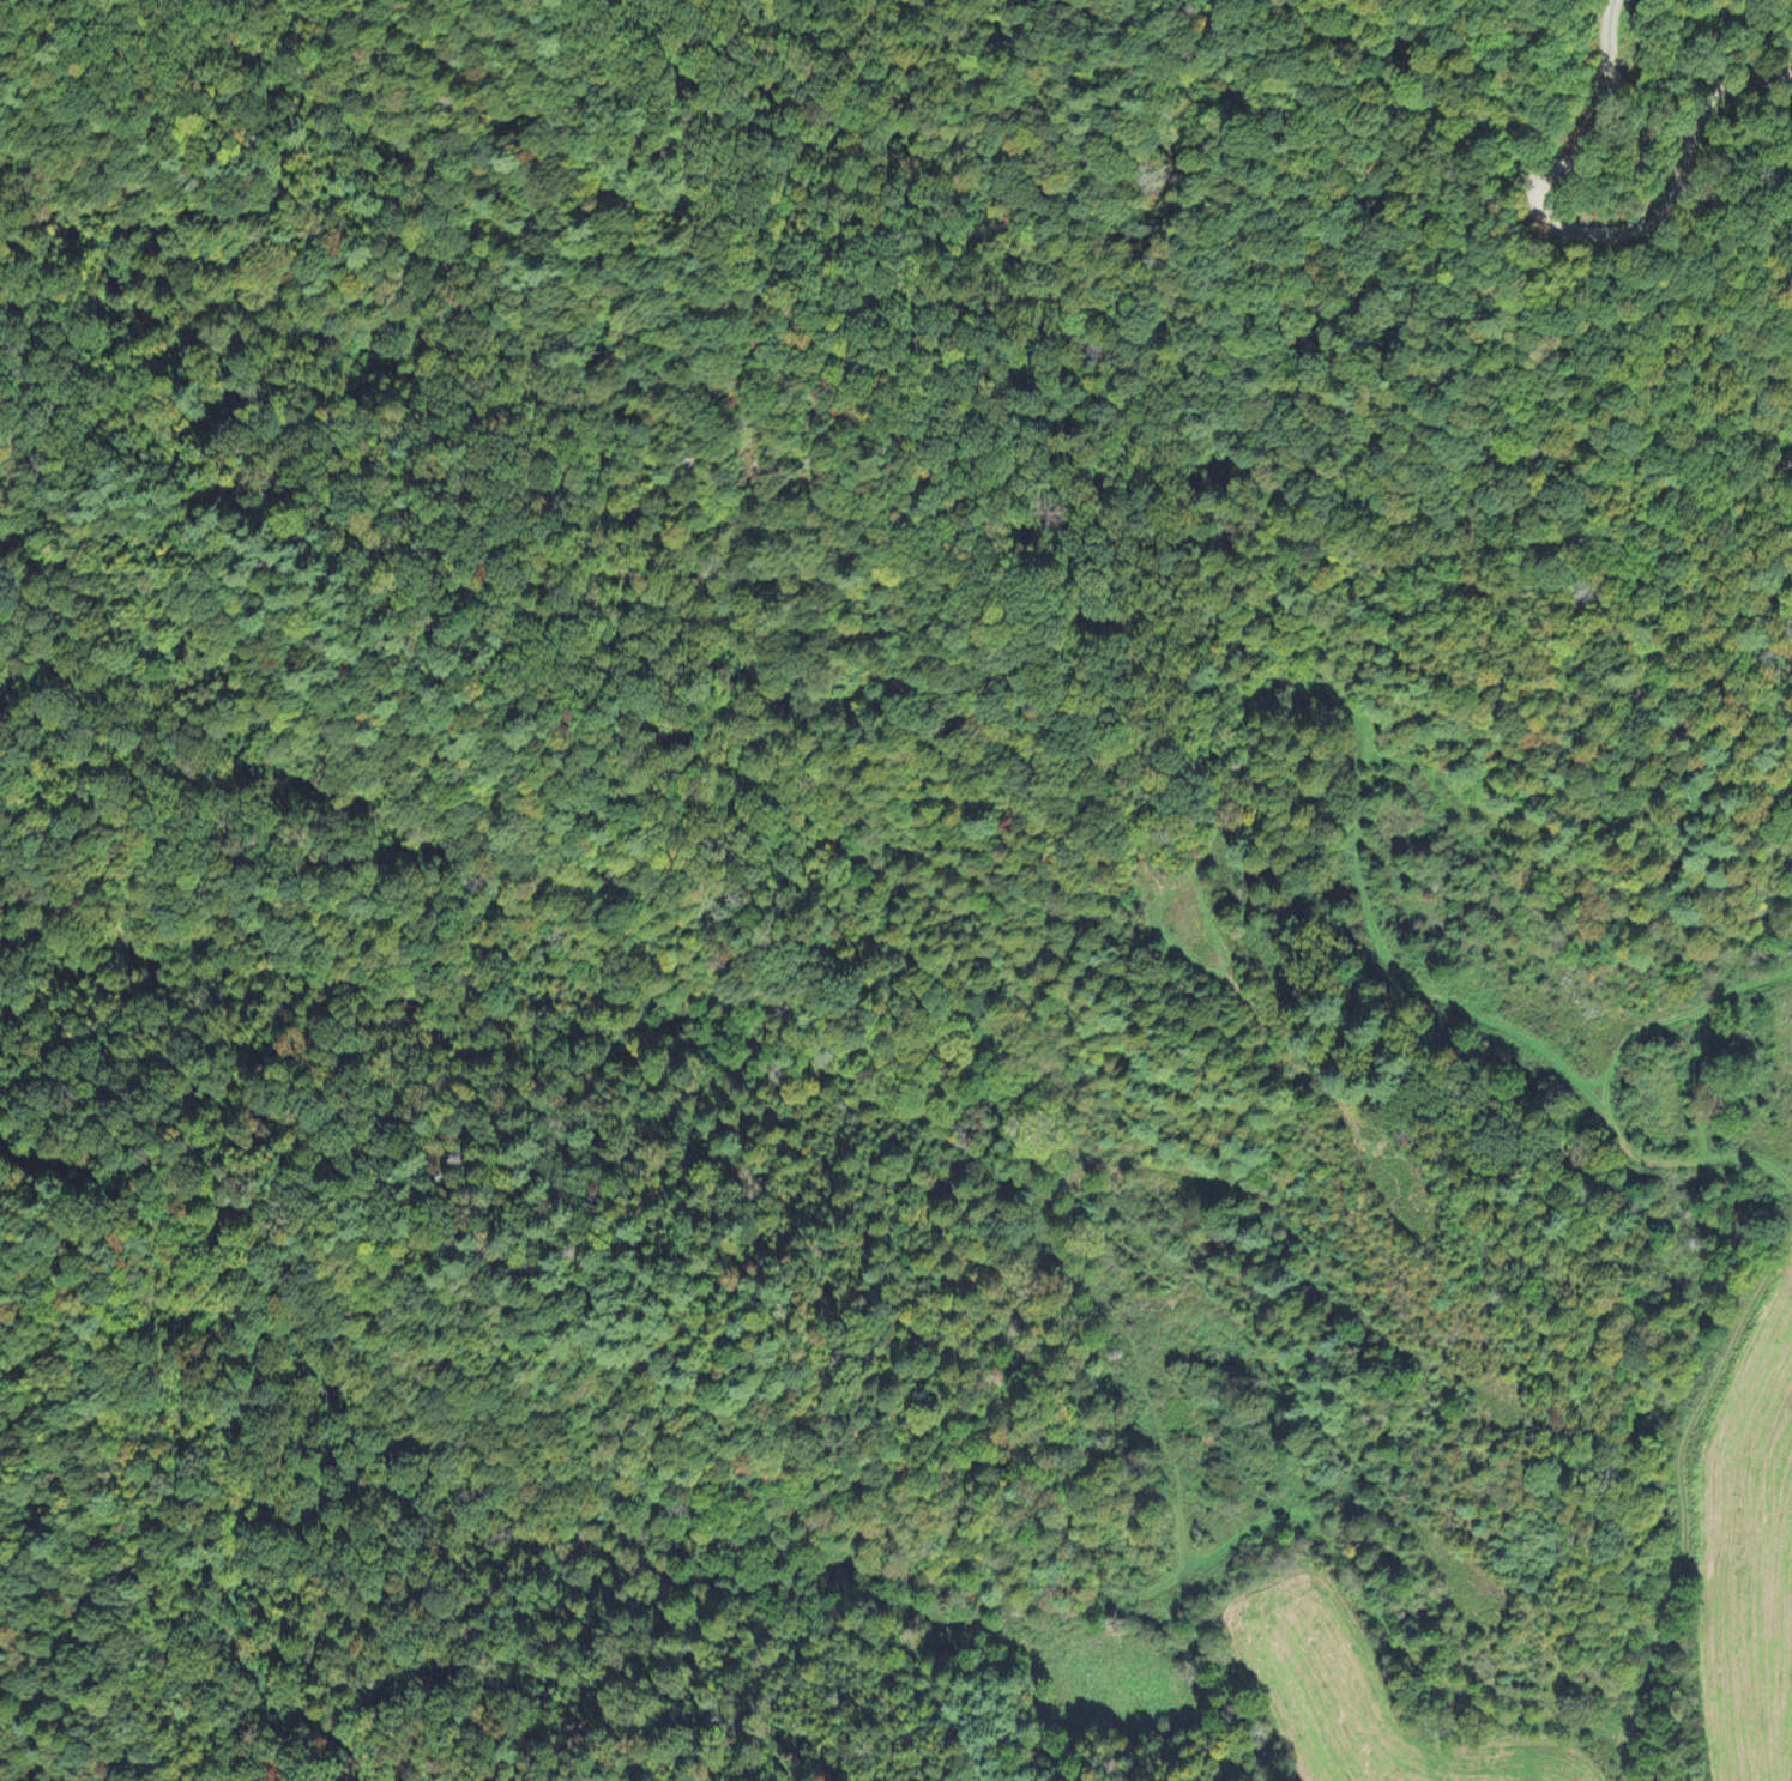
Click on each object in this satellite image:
road: (1581, 239)
road: (1682, 1499)

